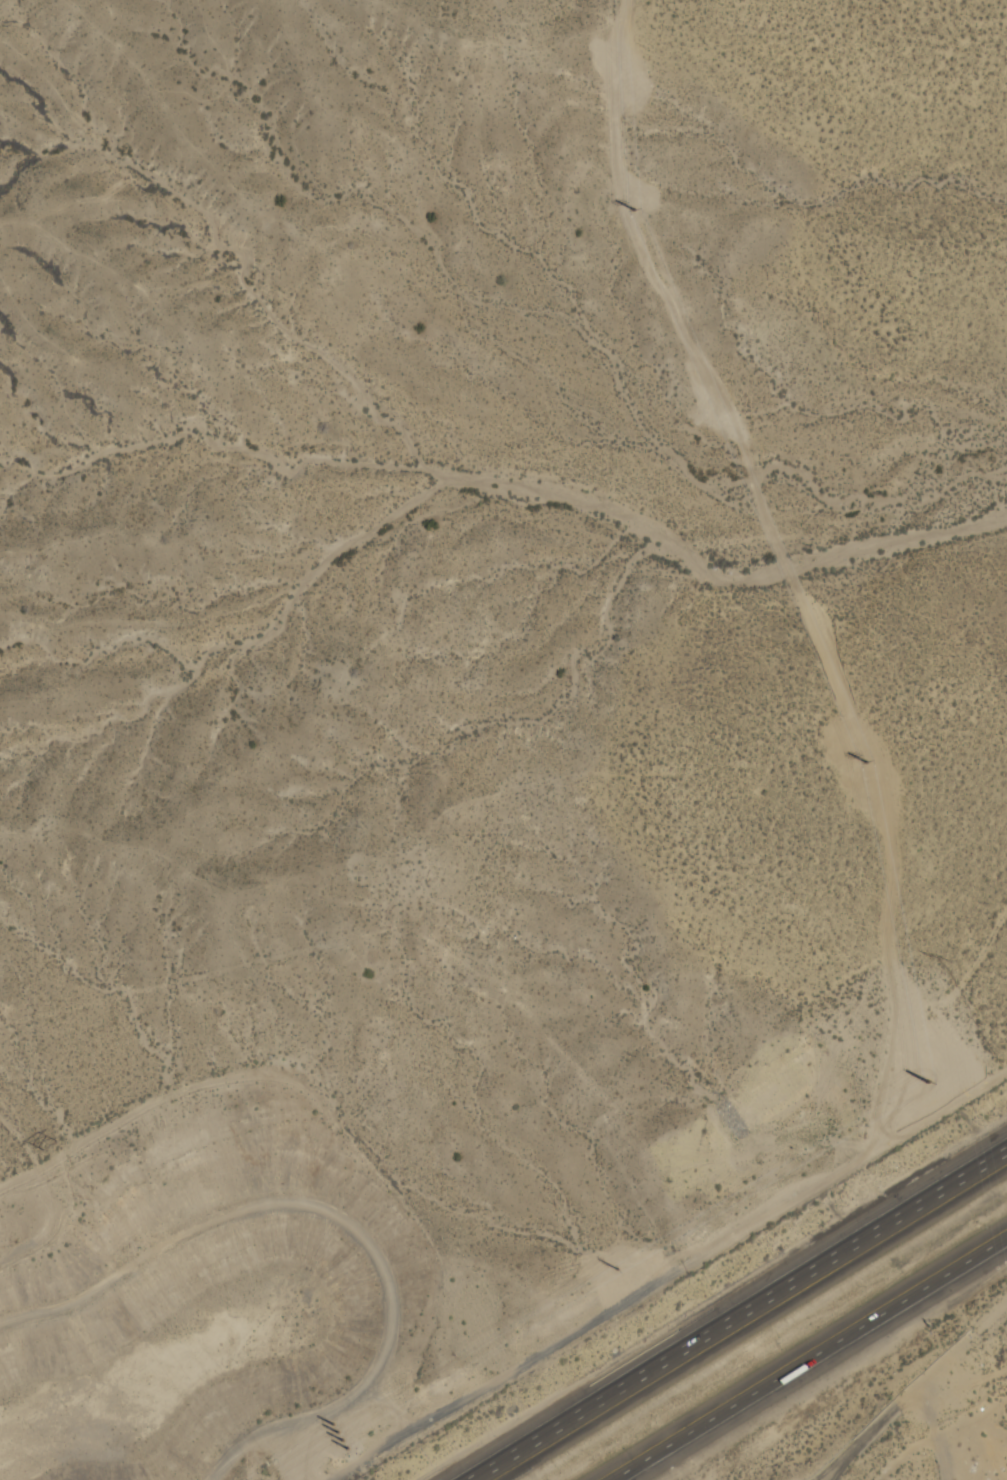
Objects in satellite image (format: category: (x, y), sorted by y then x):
power tower: (650, 209)
power tower: (717, 414)
power tower: (854, 780)
power tower: (938, 959)
power tower: (929, 1082)
power tower: (50, 1145)
power tower: (619, 1270)
road: (735, 1314)
road: (809, 1358)
power tower: (342, 1436)

